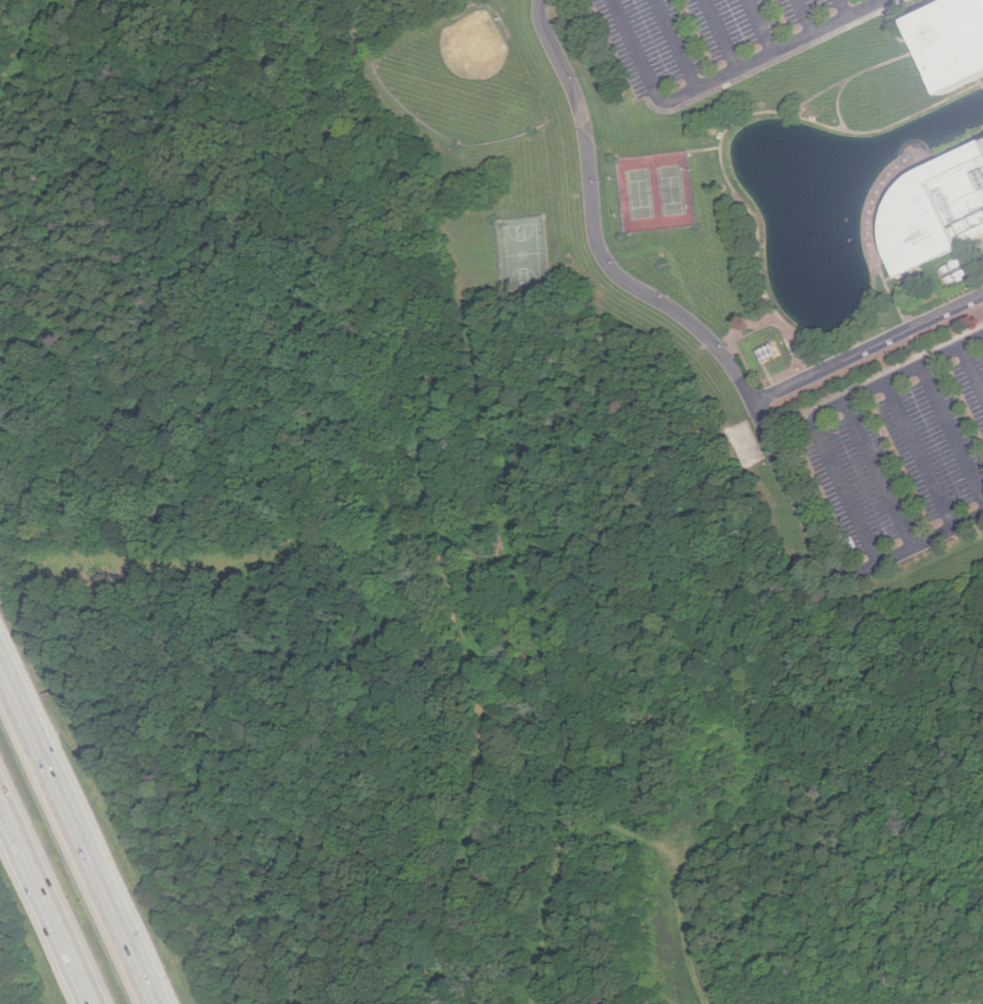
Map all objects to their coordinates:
road: (837, 8)
road: (798, 17)
road: (755, 26)
road: (893, 28)
road: (714, 34)
parking lot: (716, 39)
building: (949, 43)
road: (670, 44)
road: (775, 61)
road: (720, 74)
road: (849, 77)
park: (463, 78)
road: (982, 83)
road: (839, 101)
road: (703, 148)
road: (723, 169)
road: (891, 173)
park: (655, 190)
building: (934, 211)
park: (522, 253)
road: (898, 310)
road: (717, 345)
road: (868, 348)
road: (972, 367)
road: (889, 369)
road: (826, 410)
road: (952, 428)
park: (746, 443)
parking lot: (907, 455)
road: (921, 455)
road: (879, 475)
road: (77, 834)
road: (678, 895)
road: (46, 904)

